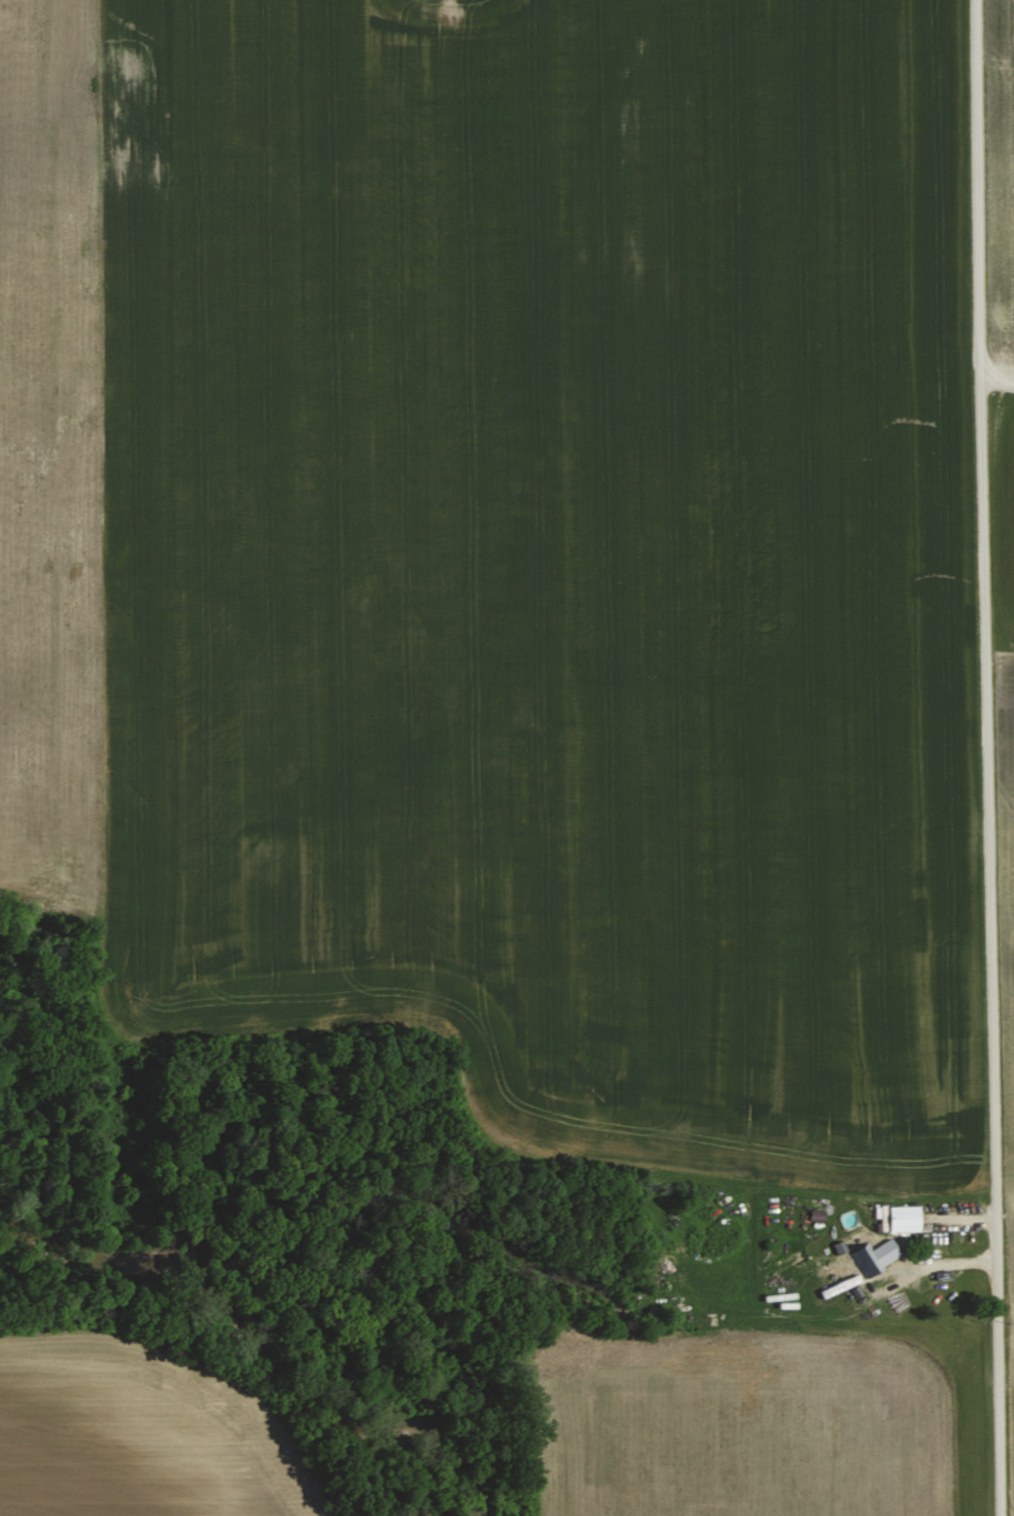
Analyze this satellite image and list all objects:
road: (996, 373)
road: (984, 757)
building: (907, 1217)
building: (867, 1256)

